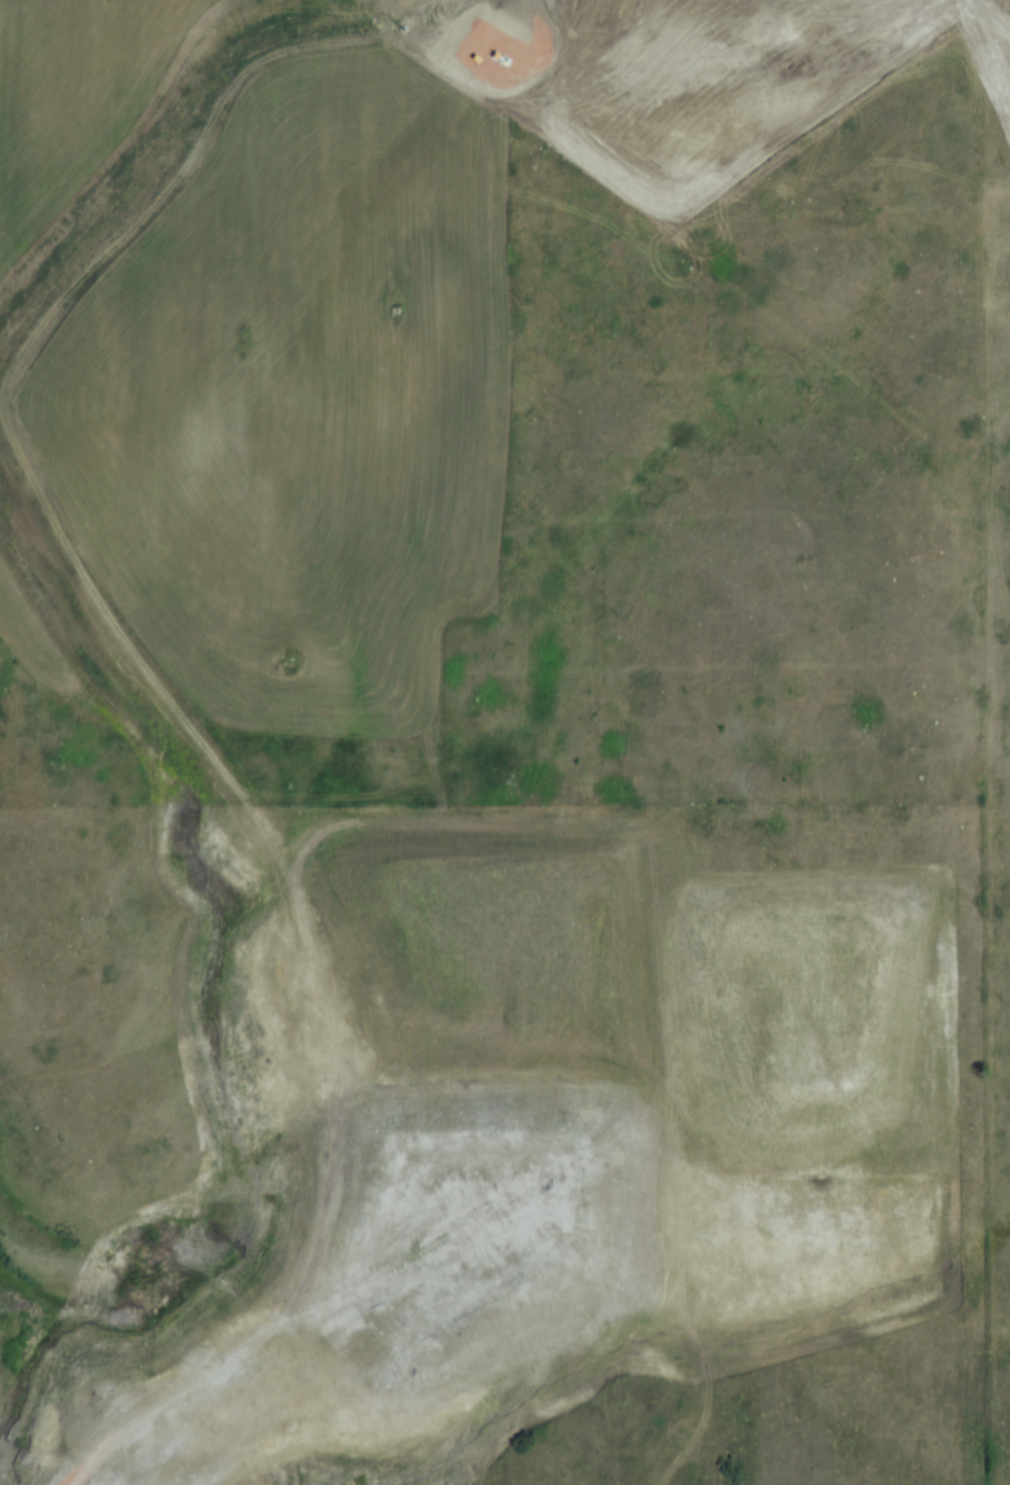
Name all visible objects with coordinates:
road: (488, 1469)

